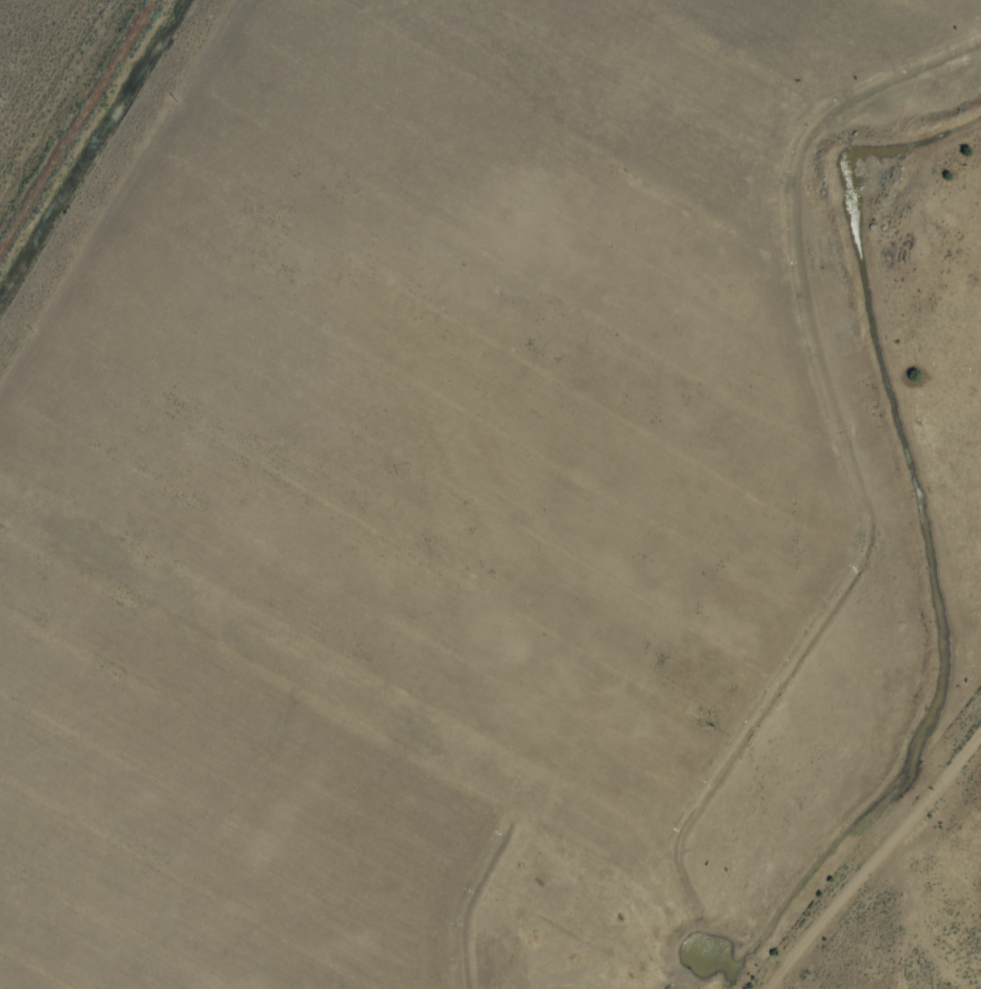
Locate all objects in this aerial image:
road: (84, 141)
road: (876, 860)

